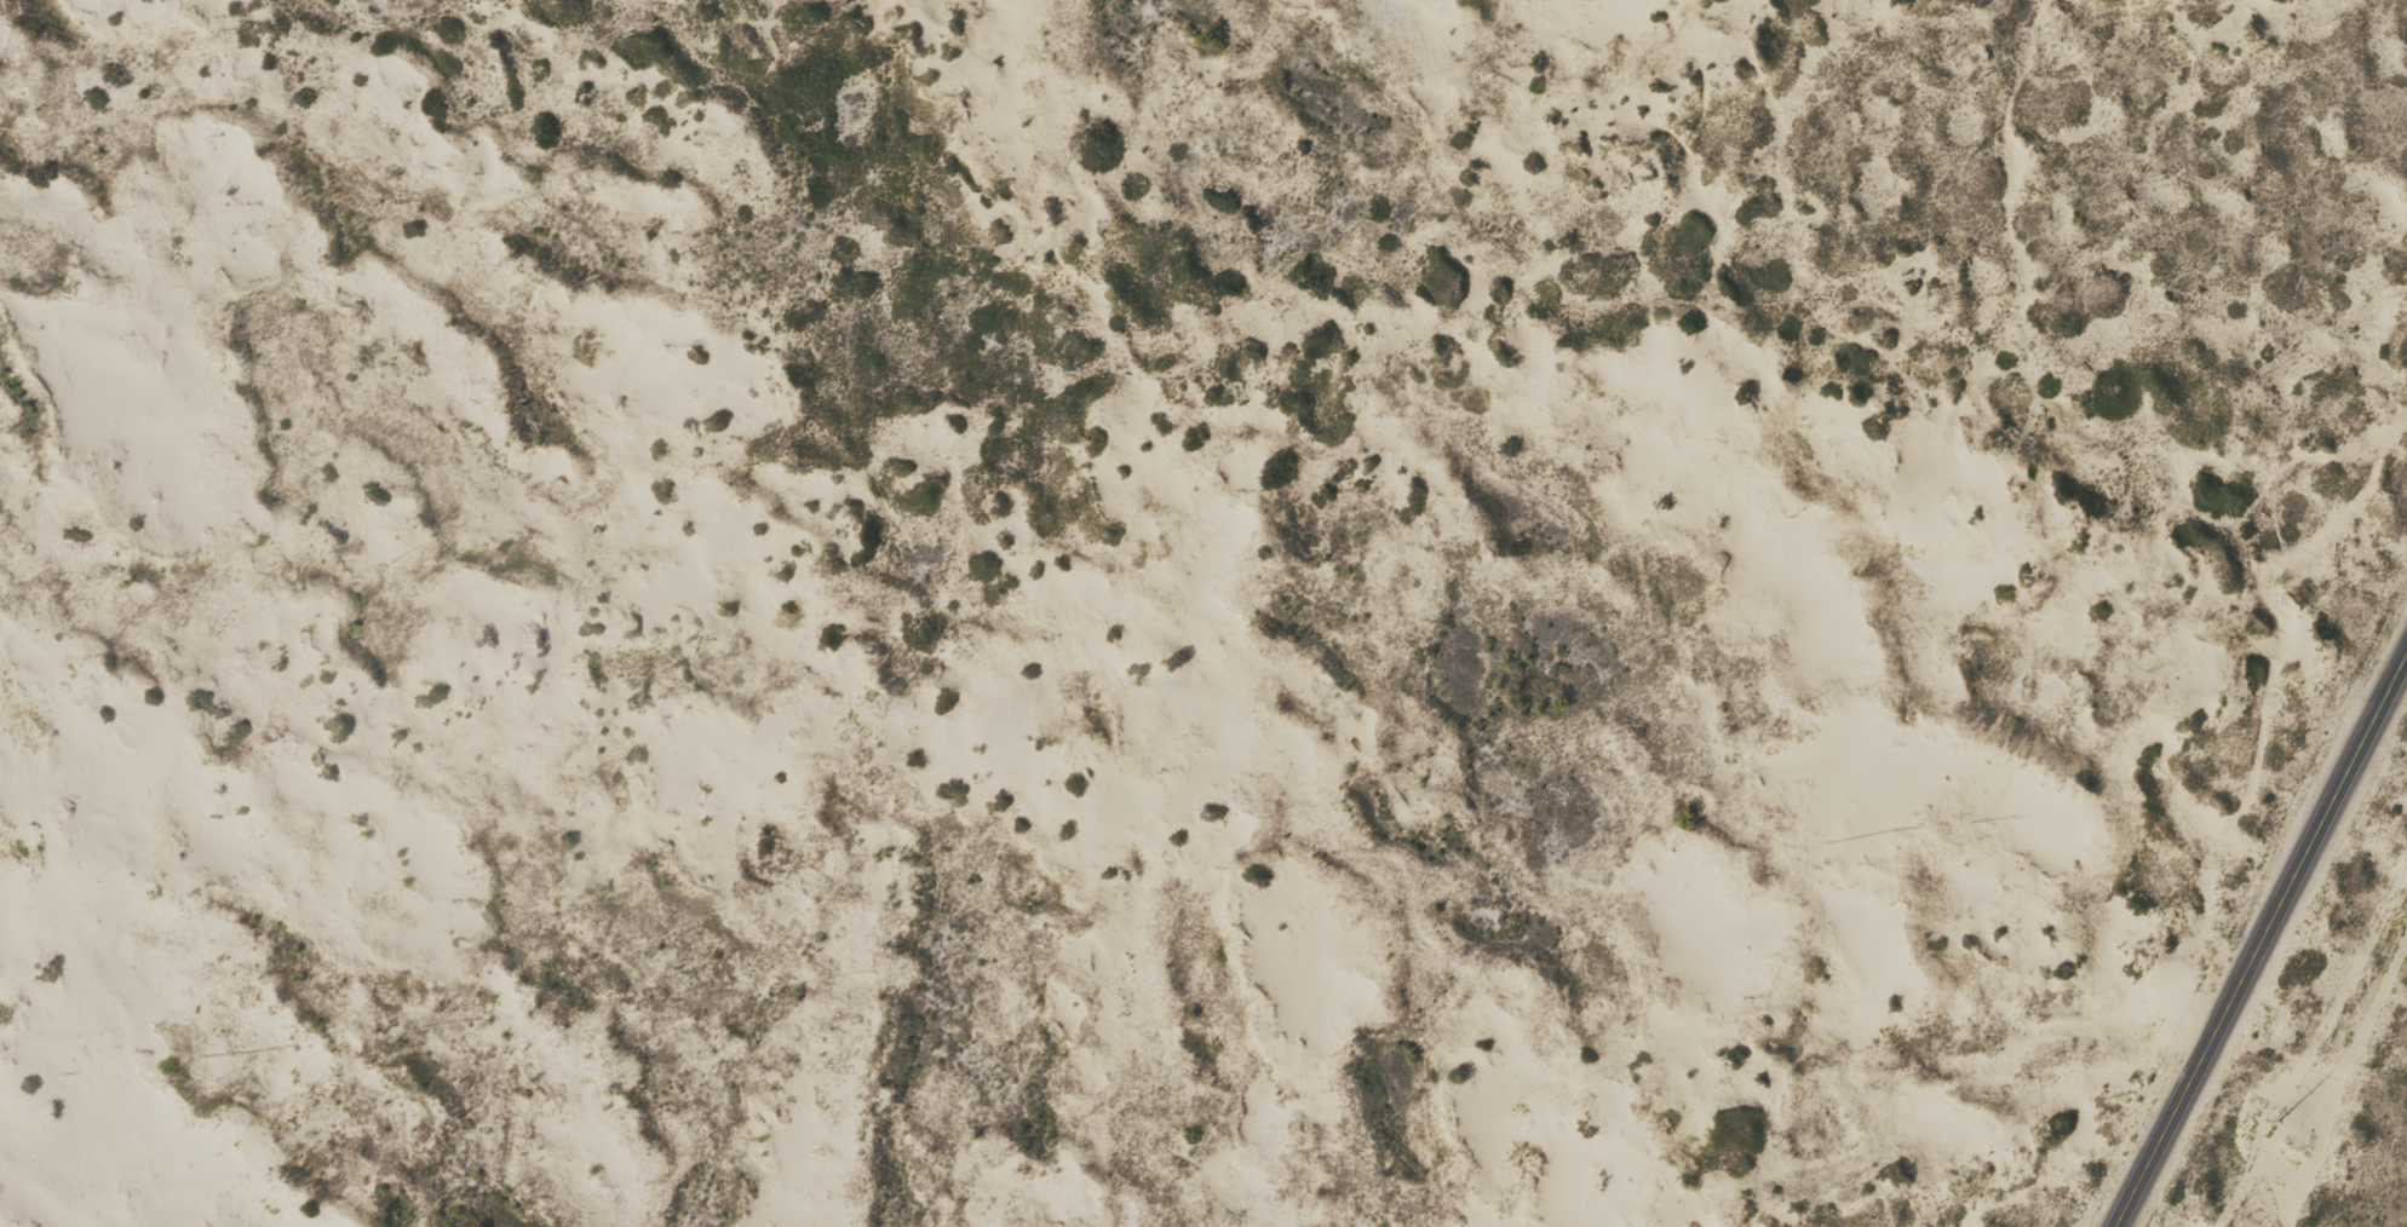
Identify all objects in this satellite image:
road: (2263, 944)
power tower: (2293, 1145)

